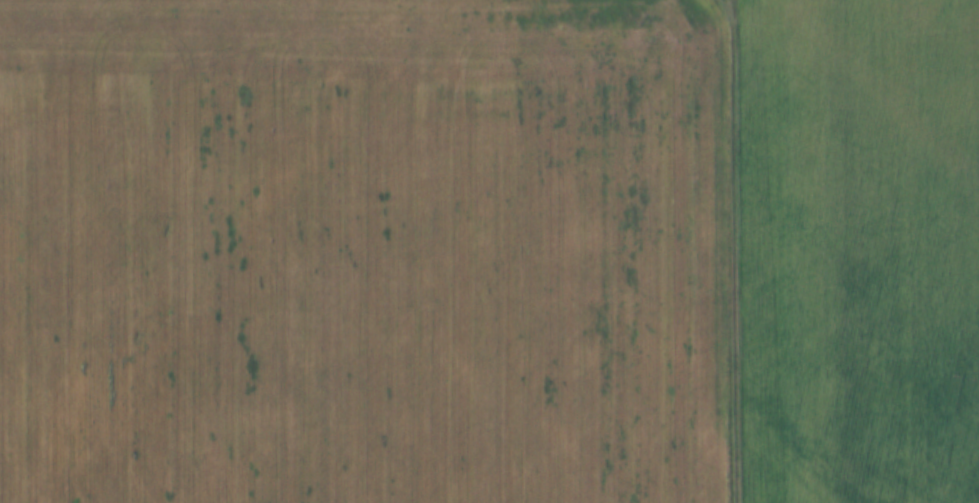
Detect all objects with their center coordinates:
road: (737, 251)

